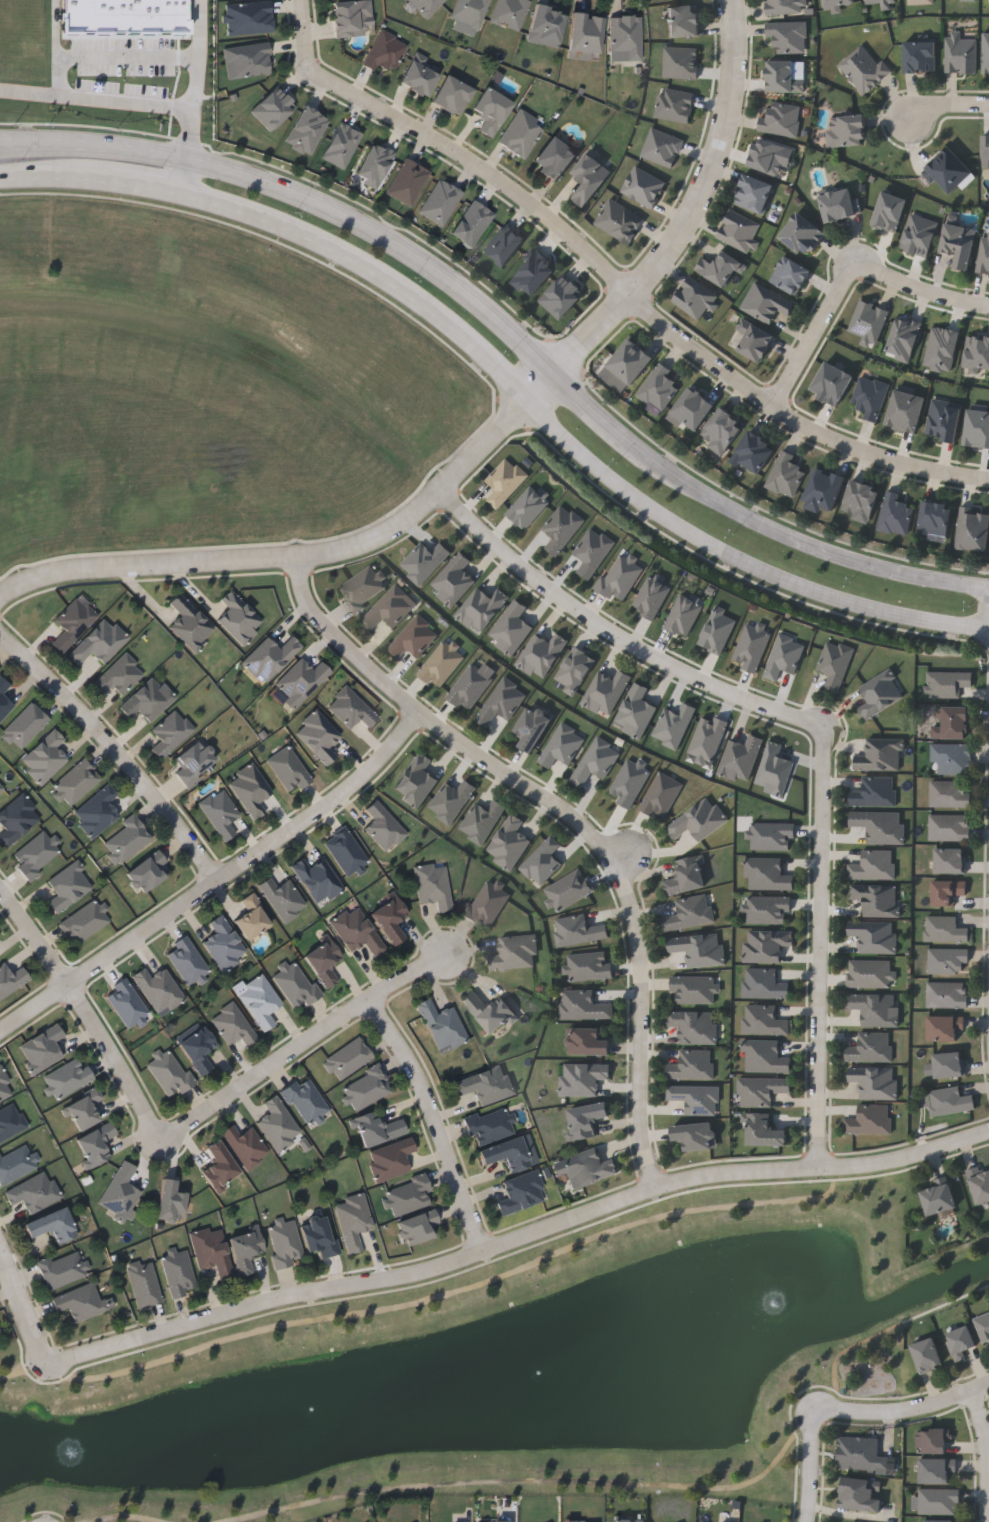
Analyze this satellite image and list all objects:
building: (964, 0)
building: (883, 2)
building: (837, 3)
building: (426, 6)
building: (784, 6)
building: (470, 13)
building: (509, 13)
building: (352, 16)
building: (248, 17)
building: (683, 20)
building: (546, 25)
road: (57, 28)
building: (586, 32)
road: (304, 35)
building: (787, 37)
building: (626, 38)
building: (385, 51)
building: (985, 53)
building: (962, 55)
road: (199, 56)
building: (921, 57)
road: (108, 58)
building: (248, 59)
building: (681, 62)
building: (864, 68)
building: (419, 75)
building: (786, 76)
building: (453, 95)
road: (119, 104)
building: (675, 104)
road: (947, 107)
building: (492, 110)
building: (781, 119)
building: (847, 131)
building: (521, 133)
building: (985, 153)
building: (767, 155)
building: (555, 159)
road: (480, 167)
building: (952, 174)
road: (190, 177)
road: (54, 178)
building: (590, 178)
road: (146, 187)
building: (754, 193)
road: (305, 195)
building: (838, 204)
road: (695, 208)
building: (619, 221)
building: (739, 230)
building: (803, 233)
road: (317, 240)
building: (962, 244)
building: (983, 253)
building: (720, 267)
building: (791, 274)
road: (846, 279)
building: (695, 298)
building: (766, 302)
road: (981, 305)
building: (868, 320)
building: (755, 340)
building: (977, 351)
road: (484, 356)
building: (631, 360)
building: (832, 383)
road: (545, 386)
building: (659, 387)
building: (870, 396)
building: (694, 408)
road: (591, 409)
building: (906, 410)
road: (786, 414)
building: (947, 421)
building: (977, 428)
building: (722, 430)
building: (754, 452)
building: (786, 474)
road: (980, 478)
building: (824, 490)
building: (861, 500)
building: (895, 513)
building: (935, 517)
building: (972, 529)
road: (788, 535)
road: (729, 550)
road: (292, 558)
road: (978, 585)
building: (388, 609)
building: (72, 623)
building: (188, 623)
road: (978, 628)
building: (414, 638)
building: (98, 641)
building: (271, 657)
building: (834, 663)
building: (441, 664)
building: (118, 675)
building: (302, 679)
building: (950, 686)
building: (470, 687)
building: (880, 693)
building: (147, 699)
building: (501, 702)
building: (350, 708)
building: (24, 725)
building: (956, 725)
road: (816, 726)
building: (533, 727)
building: (170, 732)
building: (318, 735)
building: (562, 745)
road: (113, 747)
building: (880, 755)
building: (44, 757)
building: (955, 760)
building: (195, 761)
building: (595, 761)
building: (288, 768)
building: (76, 781)
building: (416, 781)
building: (629, 782)
building: (1, 785)
building: (249, 788)
building: (874, 792)
building: (661, 796)
building: (952, 796)
building: (451, 800)
building: (97, 810)
building: (219, 812)
building: (16, 818)
road: (573, 819)
building: (698, 819)
building: (482, 820)
building: (382, 825)
building: (879, 825)
building: (952, 829)
building: (126, 839)
building: (508, 842)
building: (345, 851)
building: (36, 852)
road: (625, 859)
building: (542, 860)
building: (953, 862)
building: (873, 865)
building: (146, 871)
building: (766, 874)
building: (686, 875)
building: (317, 879)
road: (216, 882)
building: (67, 885)
building: (433, 885)
building: (950, 893)
building: (282, 897)
building: (877, 899)
building: (487, 903)
building: (767, 909)
building: (689, 913)
building: (252, 917)
building: (389, 917)
building: (84, 921)
building: (356, 930)
building: (578, 930)
building: (948, 931)
road: (34, 934)
building: (874, 936)
building: (223, 944)
building: (765, 944)
building: (699, 948)
building: (515, 952)
building: (323, 960)
building: (187, 961)
building: (950, 963)
building: (588, 966)
building: (870, 973)
building: (12, 979)
building: (763, 983)
building: (295, 984)
building: (158, 989)
building: (693, 989)
building: (949, 997)
building: (260, 1002)
building: (126, 1004)
building: (584, 1005)
building: (875, 1008)
building: (490, 1011)
building: (763, 1020)
building: (232, 1024)
building: (442, 1025)
building: (693, 1026)
building: (947, 1030)
building: (587, 1042)
road: (304, 1044)
building: (871, 1047)
building: (41, 1048)
building: (198, 1049)
building: (347, 1057)
building: (765, 1057)
road: (120, 1061)
building: (691, 1064)
building: (951, 1067)
building: (169, 1072)
building: (68, 1076)
building: (583, 1078)
building: (874, 1081)
building: (486, 1084)
building: (4, 1087)
building: (366, 1087)
building: (760, 1090)
building: (695, 1097)
building: (305, 1100)
building: (953, 1103)
building: (84, 1109)
building: (586, 1119)
building: (869, 1120)
building: (10, 1121)
road: (436, 1121)
building: (277, 1123)
building: (488, 1124)
building: (378, 1128)
building: (764, 1130)
building: (694, 1135)
building: (95, 1143)
building: (245, 1145)
building: (506, 1153)
building: (391, 1158)
building: (15, 1162)
building: (219, 1165)
building: (584, 1167)
building: (979, 1184)
building: (119, 1191)
building: (32, 1192)
building: (521, 1192)
building: (409, 1194)
building: (941, 1200)
building: (170, 1201)
building: (352, 1220)
building: (52, 1225)
building: (417, 1227)
building: (318, 1235)
road: (519, 1240)
building: (284, 1242)
building: (245, 1249)
building: (212, 1251)
building: (60, 1269)
building: (177, 1272)
building: (143, 1283)
building: (81, 1302)
road: (23, 1308)
building: (983, 1326)
building: (0, 1336)
building: (961, 1341)
building: (930, 1357)
road: (980, 1387)
road: (895, 1411)
road: (983, 1424)
building: (937, 1443)
building: (860, 1454)
road: (808, 1468)
building: (940, 1474)
building: (860, 1494)
building: (942, 1503)
road: (850, 1515)
building: (629, 1520)

